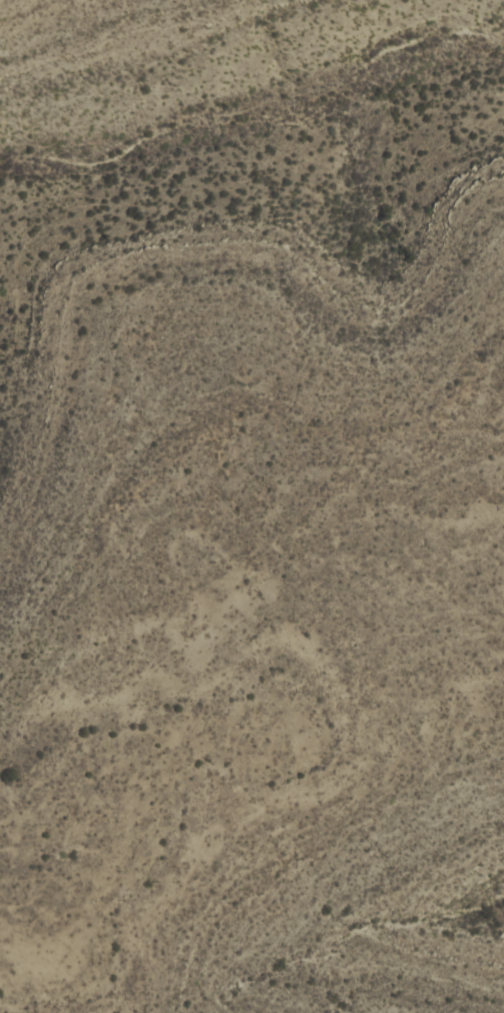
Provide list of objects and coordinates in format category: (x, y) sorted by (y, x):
park: (220, 268)

